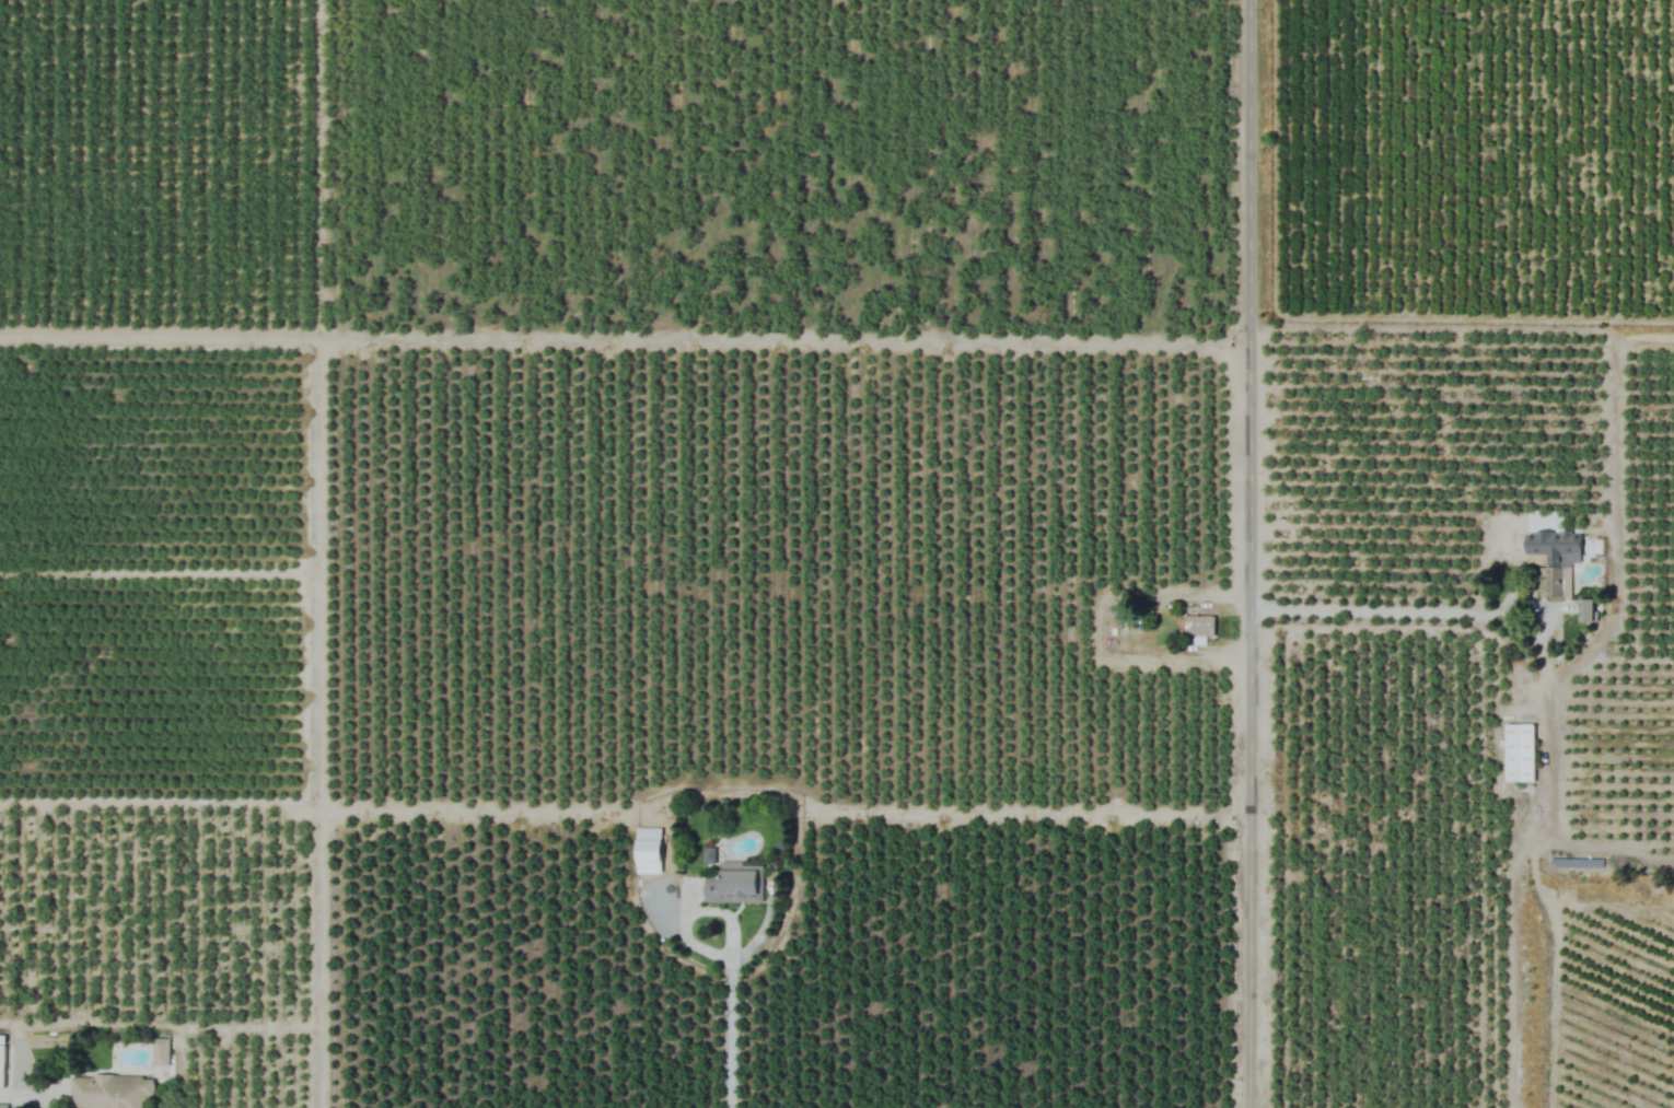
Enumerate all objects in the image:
road: (1254, 553)
building: (1554, 582)
road: (1393, 610)
building: (1586, 610)
building: (1195, 626)
road: (1092, 627)
building: (1519, 753)
building: (734, 884)
road: (728, 1015)
building: (160, 1051)
building: (1, 1062)
building: (111, 1092)
road: (24, 1097)
building: (3, 1106)

